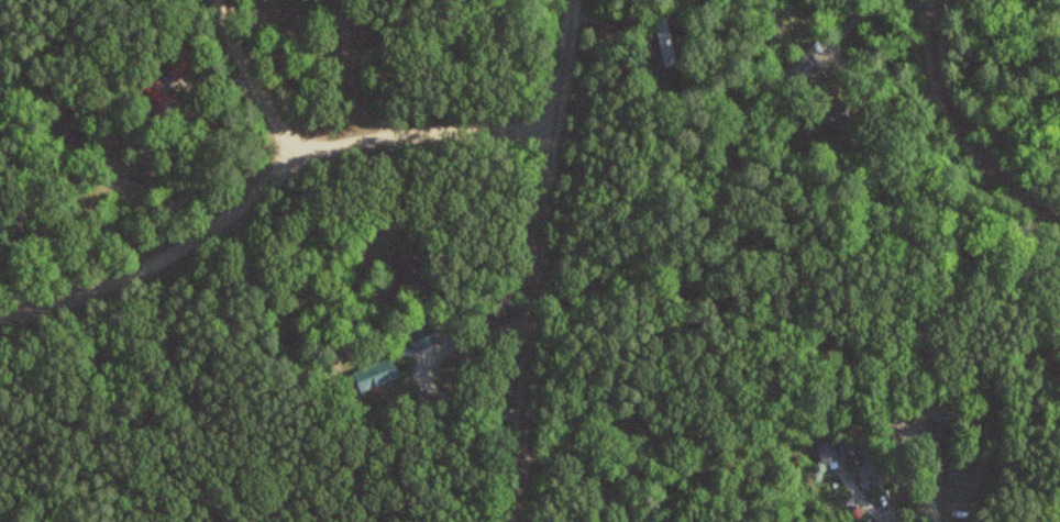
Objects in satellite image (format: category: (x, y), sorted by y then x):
building: (664, 40)
building: (180, 62)
building: (800, 68)
road: (254, 79)
building: (154, 92)
building: (66, 124)
road: (961, 127)
road: (265, 182)
building: (2, 197)
building: (905, 231)
road: (534, 259)
building: (409, 266)
building: (273, 309)
building: (422, 336)
building: (376, 373)
building: (659, 399)
building: (827, 451)
building: (948, 453)
building: (869, 460)
building: (783, 521)

